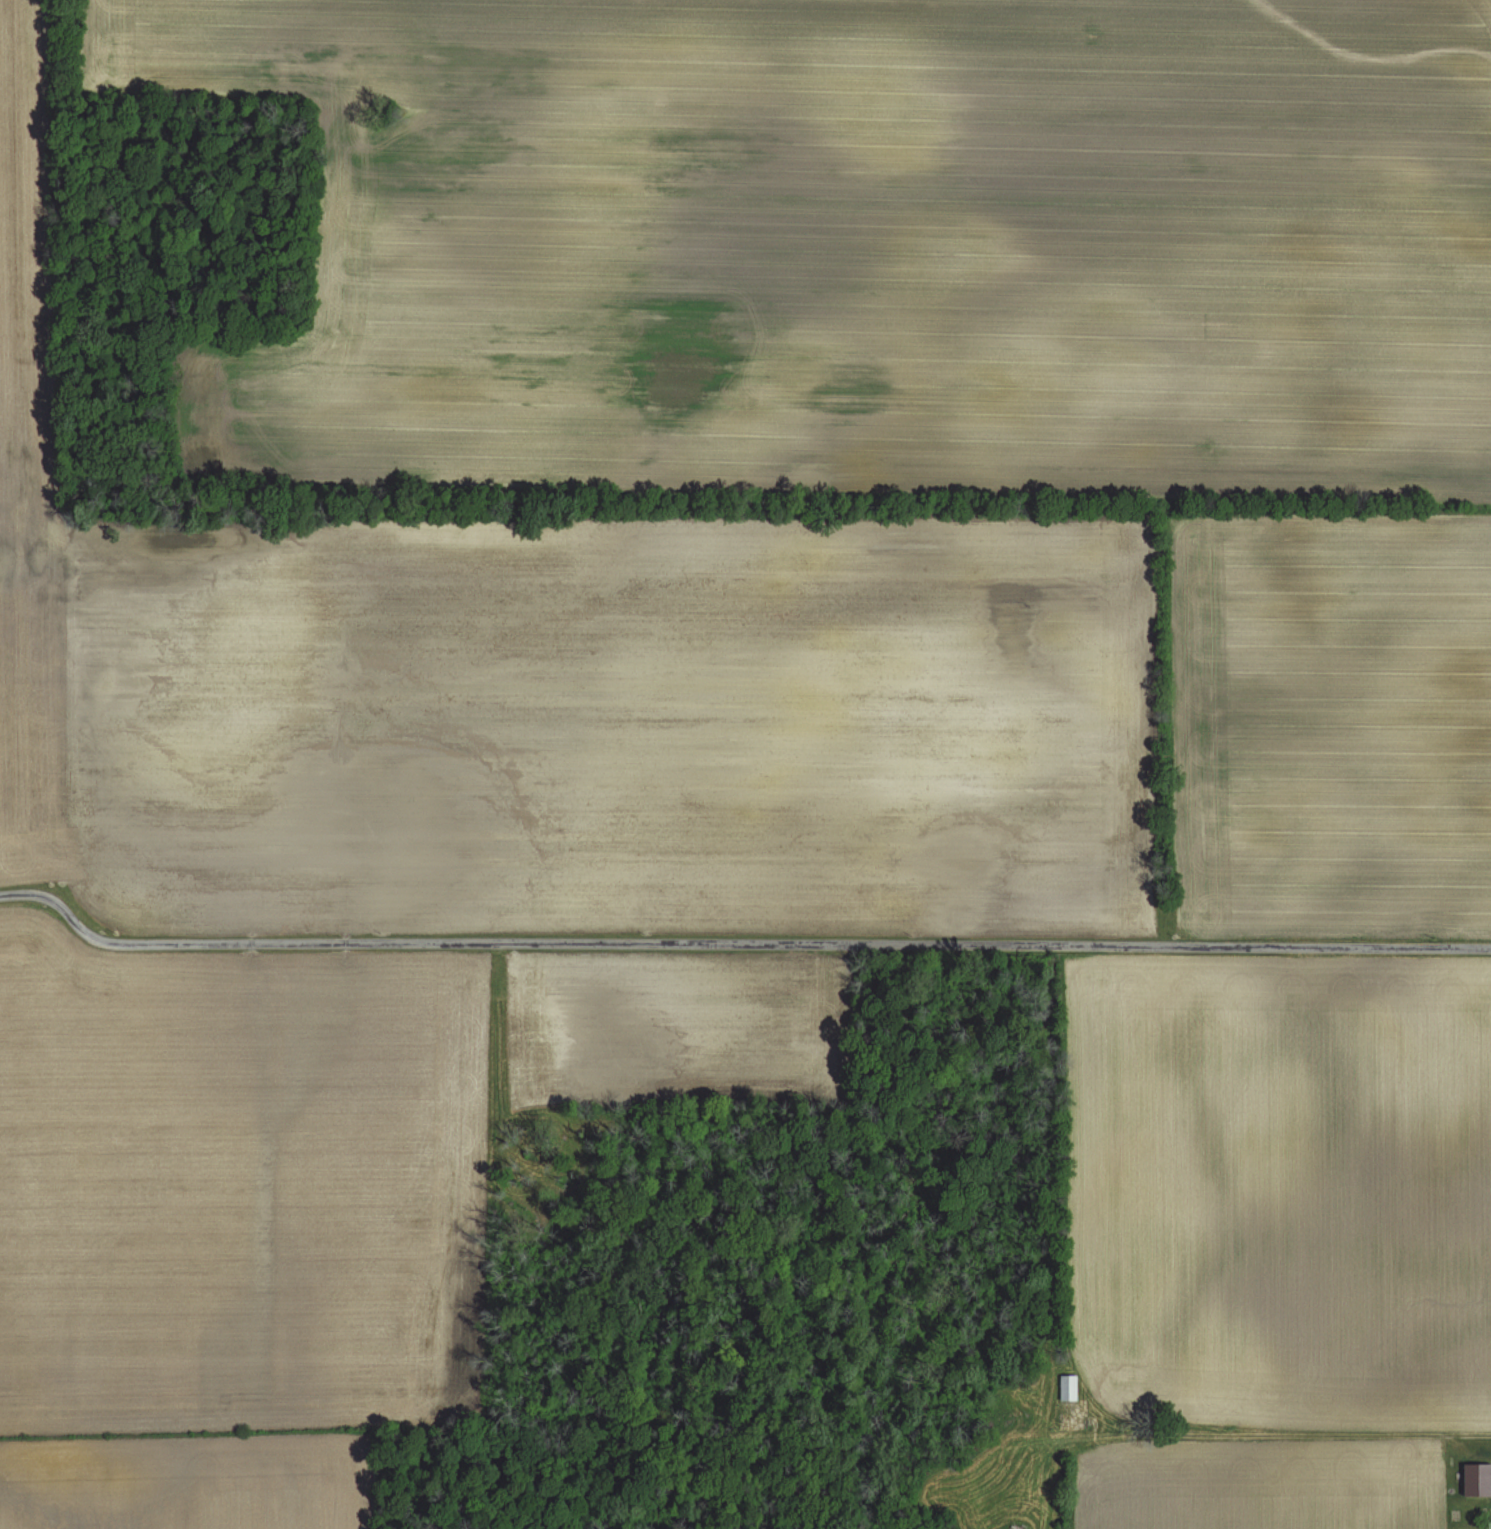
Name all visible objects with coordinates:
road: (736, 944)
building: (1070, 1389)
building: (1477, 1481)

